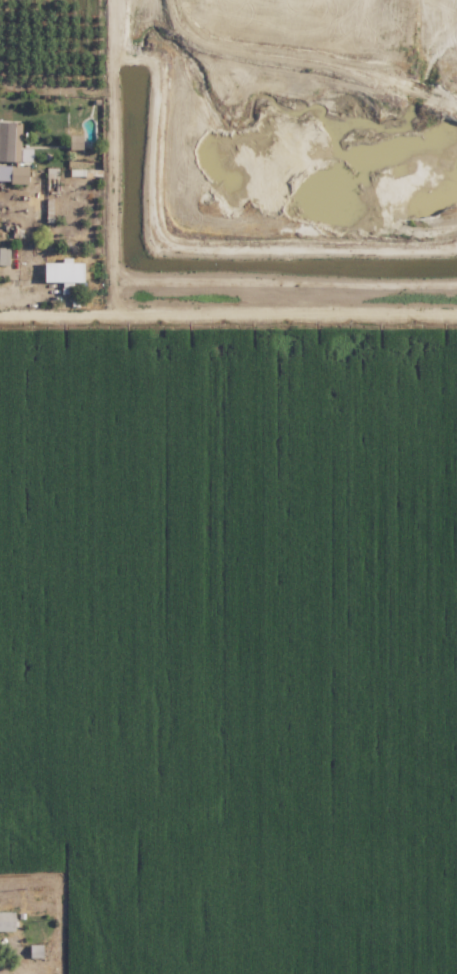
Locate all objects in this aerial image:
building: (72, 142)
building: (12, 174)
building: (3, 256)
building: (59, 272)
road: (13, 289)
crop: (228, 660)
building: (8, 920)

